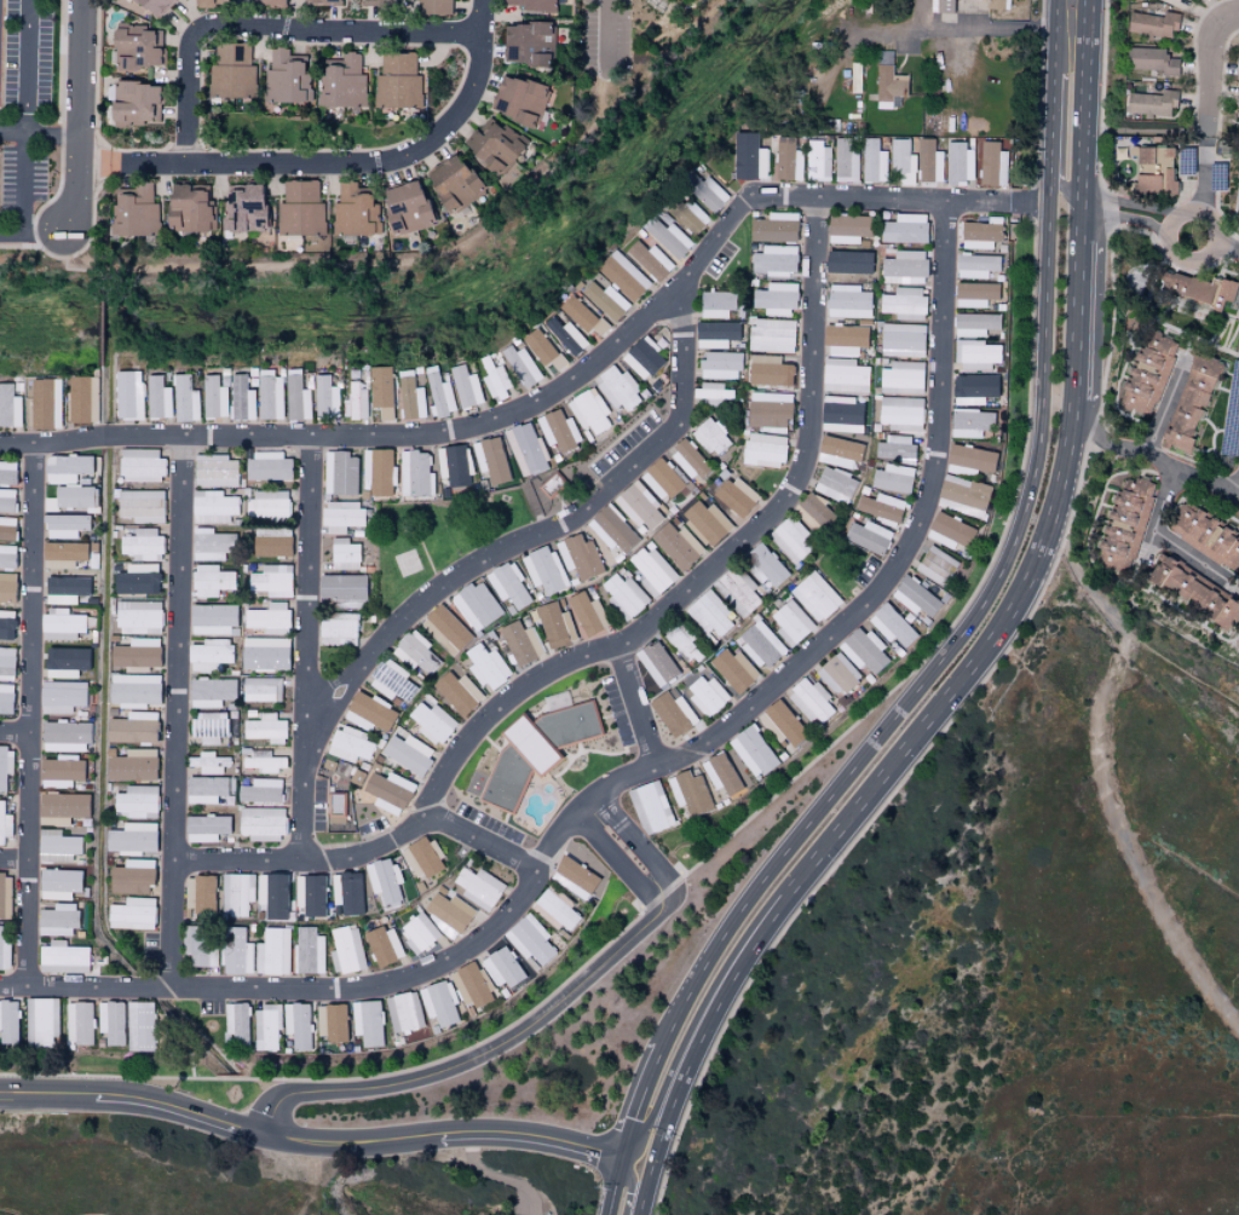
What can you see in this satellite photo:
building: (260, 1)
building: (319, 1)
building: (375, 1)
building: (200, 2)
building: (526, 4)
building: (995, 4)
park: (674, 5)
building: (944, 6)
building: (152, 7)
building: (431, 7)
road: (1074, 12)
road: (1231, 17)
parking lot: (0, 19)
building: (1151, 24)
road: (269, 25)
road: (606, 30)
road: (937, 30)
road: (1074, 31)
building: (526, 42)
building: (136, 47)
parking lot: (28, 57)
road: (1064, 57)
building: (1148, 59)
road: (24, 65)
building: (1237, 69)
building: (231, 71)
road: (1208, 74)
building: (287, 77)
building: (855, 77)
building: (341, 81)
building: (397, 81)
building: (887, 86)
building: (1238, 98)
building: (518, 100)
building: (133, 103)
building: (1149, 103)
road: (81, 117)
parking lot: (1, 121)
road: (1082, 121)
road: (1051, 125)
road: (40, 133)
building: (494, 145)
building: (748, 157)
building: (845, 160)
building: (871, 160)
road: (351, 161)
building: (786, 161)
building: (817, 161)
building: (915, 161)
building: (957, 161)
road: (94, 165)
building: (991, 165)
building: (1143, 168)
road: (1204, 173)
parking lot: (22, 177)
road: (275, 179)
road: (330, 179)
road: (162, 182)
road: (221, 183)
road: (24, 185)
building: (451, 185)
road: (1049, 189)
road: (1065, 190)
building: (708, 192)
road: (1030, 203)
road: (1129, 205)
building: (188, 207)
building: (300, 207)
building: (403, 207)
building: (241, 208)
building: (1238, 208)
building: (355, 211)
building: (133, 212)
building: (695, 212)
road: (1123, 218)
building: (773, 228)
building: (847, 229)
building: (904, 229)
building: (980, 234)
road: (31, 236)
building: (667, 237)
road: (1218, 238)
road: (19, 246)
road: (1228, 248)
road: (454, 249)
road: (46, 251)
building: (649, 259)
parking lot: (720, 260)
building: (776, 260)
building: (848, 264)
building: (976, 265)
building: (905, 267)
road: (74, 270)
building: (621, 275)
building: (1195, 288)
building: (974, 294)
building: (776, 299)
building: (604, 300)
building: (849, 301)
building: (905, 303)
road: (1077, 303)
building: (718, 304)
road: (1043, 306)
building: (582, 312)
building: (974, 324)
road: (103, 329)
building: (715, 334)
building: (771, 335)
building: (565, 336)
building: (843, 339)
building: (903, 340)
building: (541, 349)
building: (975, 353)
building: (644, 358)
building: (520, 365)
building: (721, 365)
building: (767, 370)
building: (845, 375)
building: (1146, 375)
building: (901, 376)
building: (492, 378)
building: (465, 386)
building: (619, 388)
building: (713, 392)
building: (380, 393)
building: (439, 393)
building: (126, 395)
building: (267, 395)
road: (541, 395)
building: (156, 397)
building: (183, 397)
building: (226, 397)
building: (295, 397)
building: (324, 397)
building: (409, 397)
building: (81, 399)
road: (102, 401)
building: (355, 401)
building: (44, 403)
building: (1188, 403)
building: (8, 407)
road: (1073, 407)
building: (770, 409)
building: (590, 410)
building: (901, 413)
road: (1163, 415)
building: (970, 422)
building: (560, 431)
building: (710, 437)
road: (1105, 443)
parking lot: (624, 447)
building: (894, 448)
building: (525, 449)
building: (765, 450)
building: (969, 457)
building: (491, 459)
building: (688, 459)
building: (142, 465)
building: (454, 465)
building: (269, 466)
building: (65, 468)
building: (215, 471)
building: (378, 472)
building: (7, 473)
building: (341, 473)
building: (416, 473)
building: (892, 478)
road: (1194, 478)
building: (835, 484)
road: (1235, 491)
building: (736, 496)
building: (70, 497)
building: (6, 500)
building: (270, 503)
building: (140, 506)
building: (215, 506)
building: (639, 506)
building: (881, 508)
building: (813, 513)
building: (341, 517)
building: (705, 522)
building: (64, 525)
building: (1124, 525)
building: (6, 528)
building: (612, 529)
building: (950, 531)
building: (866, 536)
building: (1205, 536)
road: (1163, 537)
building: (794, 540)
road: (523, 541)
building: (143, 543)
building: (272, 543)
building: (212, 545)
building: (676, 545)
building: (62, 554)
building: (345, 554)
building: (6, 557)
building: (580, 557)
building: (937, 565)
building: (766, 566)
building: (544, 571)
building: (652, 571)
parking lot: (866, 571)
building: (136, 580)
building: (212, 581)
building: (273, 581)
building: (509, 585)
road: (30, 587)
building: (6, 588)
building: (341, 588)
building: (64, 589)
building: (737, 591)
building: (1193, 591)
building: (623, 595)
building: (814, 595)
building: (915, 597)
building: (477, 605)
building: (138, 614)
building: (587, 615)
building: (269, 616)
building: (710, 616)
building: (213, 620)
building: (64, 623)
building: (790, 623)
building: (5, 624)
building: (554, 624)
building: (338, 626)
building: (892, 626)
building: (446, 629)
road: (1123, 640)
building: (519, 643)
road: (616, 643)
building: (760, 644)
road: (306, 646)
building: (864, 651)
building: (267, 652)
building: (416, 652)
building: (134, 653)
building: (212, 653)
building: (6, 661)
building: (65, 662)
building: (655, 663)
building: (486, 667)
building: (732, 669)
building: (839, 674)
building: (393, 681)
building: (133, 690)
building: (263, 690)
building: (212, 692)
building: (456, 692)
building: (705, 695)
building: (62, 697)
building: (5, 699)
building: (811, 701)
road: (632, 704)
road: (177, 710)
building: (369, 712)
building: (670, 713)
building: (431, 722)
building: (780, 725)
building: (211, 726)
building: (265, 727)
building: (132, 729)
road: (13, 733)
building: (64, 737)
building: (350, 744)
building: (534, 750)
building: (751, 752)
building: (408, 754)
building: (261, 760)
building: (209, 762)
building: (131, 765)
building: (5, 766)
building: (60, 771)
building: (720, 773)
road: (629, 776)
road: (839, 784)
road: (864, 785)
building: (207, 789)
building: (260, 791)
building: (387, 793)
building: (688, 793)
building: (137, 801)
building: (650, 807)
road: (607, 810)
building: (263, 823)
building: (4, 824)
building: (207, 828)
parking lot: (373, 828)
building: (131, 839)
road: (479, 840)
building: (58, 845)
road: (1137, 852)
building: (421, 857)
road: (27, 858)
road: (12, 860)
road: (615, 863)
road: (656, 865)
building: (131, 877)
building: (574, 879)
building: (384, 881)
building: (59, 883)
building: (477, 888)
building: (237, 894)
building: (347, 894)
building: (5, 896)
building: (198, 896)
building: (273, 896)
building: (310, 897)
building: (555, 910)
building: (448, 911)
building: (131, 914)
building: (59, 920)
building: (417, 932)
building: (530, 942)
building: (198, 945)
building: (381, 946)
parking lot: (150, 948)
building: (345, 950)
building: (307, 951)
building: (272, 952)
building: (4, 955)
building: (62, 958)
building: (503, 967)
building: (471, 985)
building: (439, 1003)
parking lot: (211, 1008)
building: (404, 1012)
building: (8, 1021)
building: (41, 1023)
building: (113, 1023)
building: (330, 1023)
building: (368, 1023)
building: (79, 1024)
building: (237, 1025)
building: (298, 1025)
building: (140, 1026)
building: (266, 1029)
road: (471, 1056)
road: (46, 1096)
road: (655, 1111)
road: (179, 1112)
road: (530, 1135)
road: (352, 1145)
traffic signals: (619, 1156)
traffic signals: (652, 1163)
road: (496, 1176)
road: (311, 1180)
road: (632, 1184)
road: (612, 1185)
road: (645, 1188)
road: (5, 1213)

